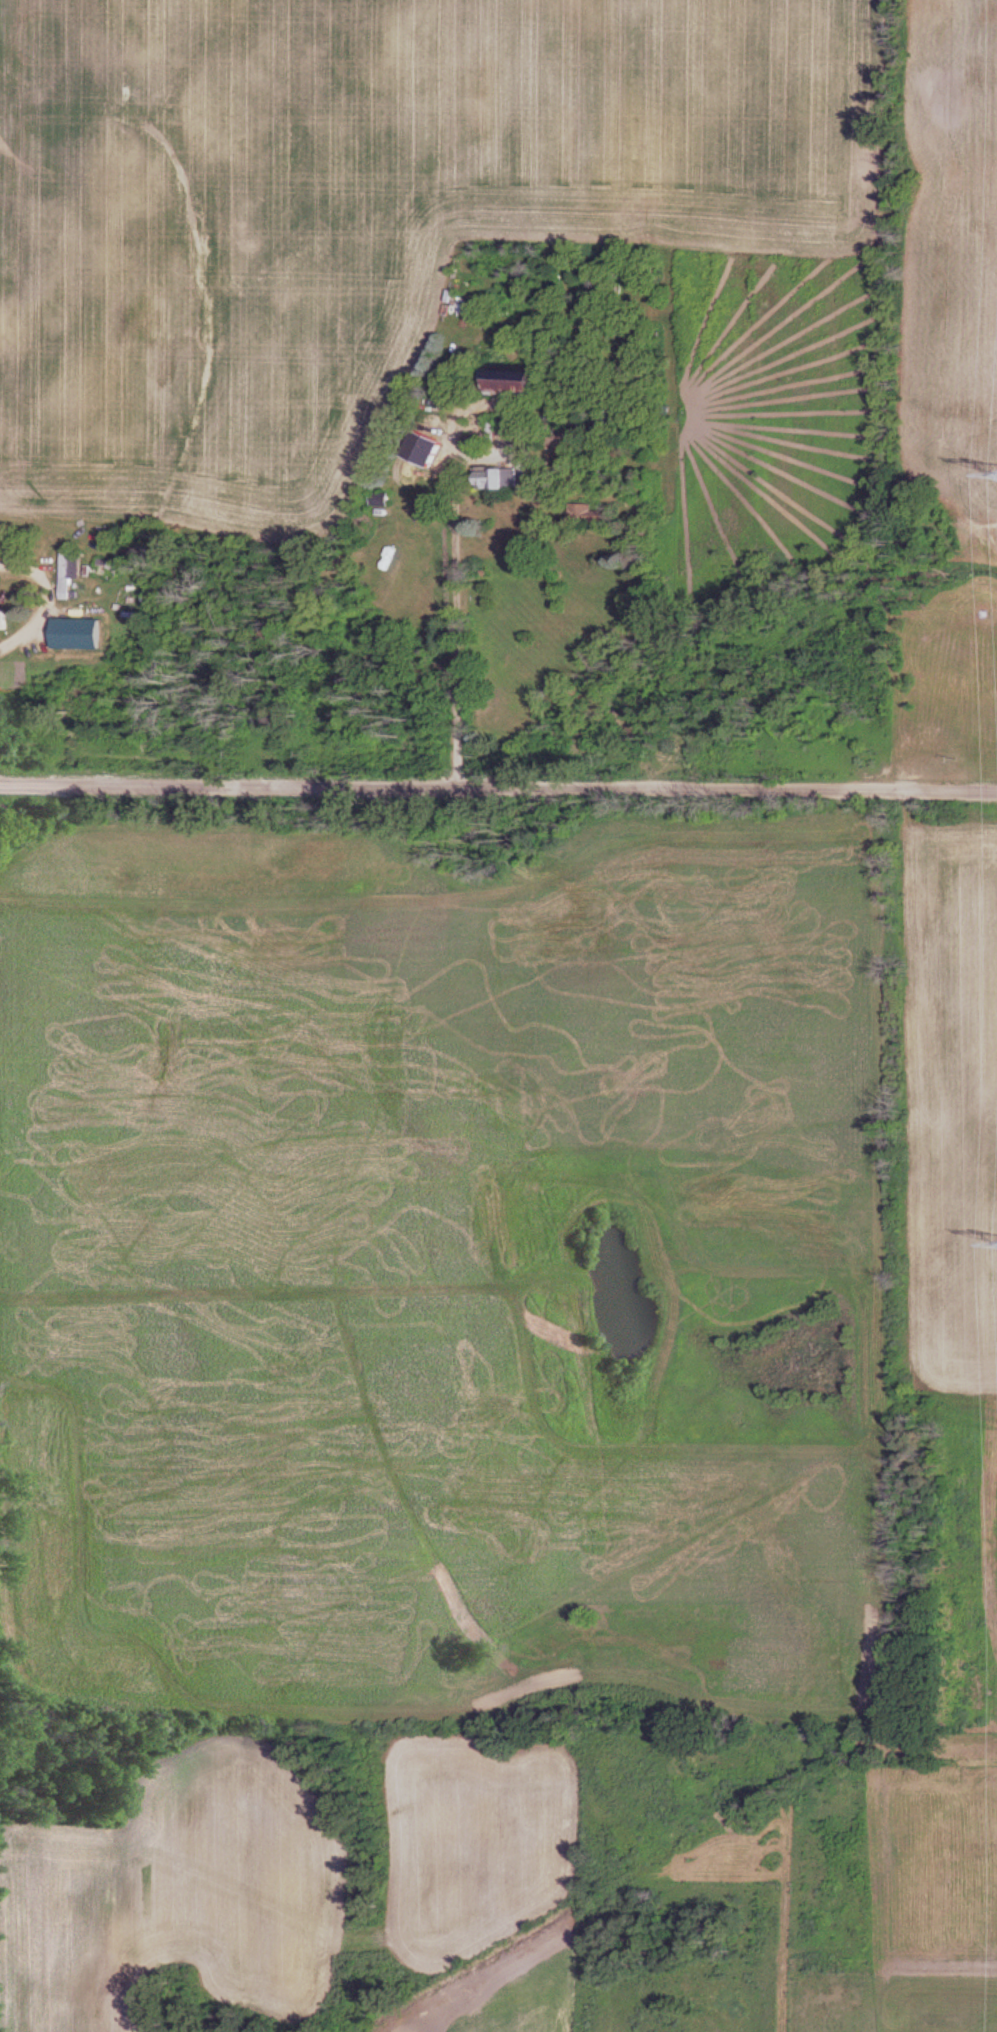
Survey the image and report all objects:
building: (521, 380)
building: (499, 478)
building: (68, 581)
road: (457, 609)
road: (498, 780)

